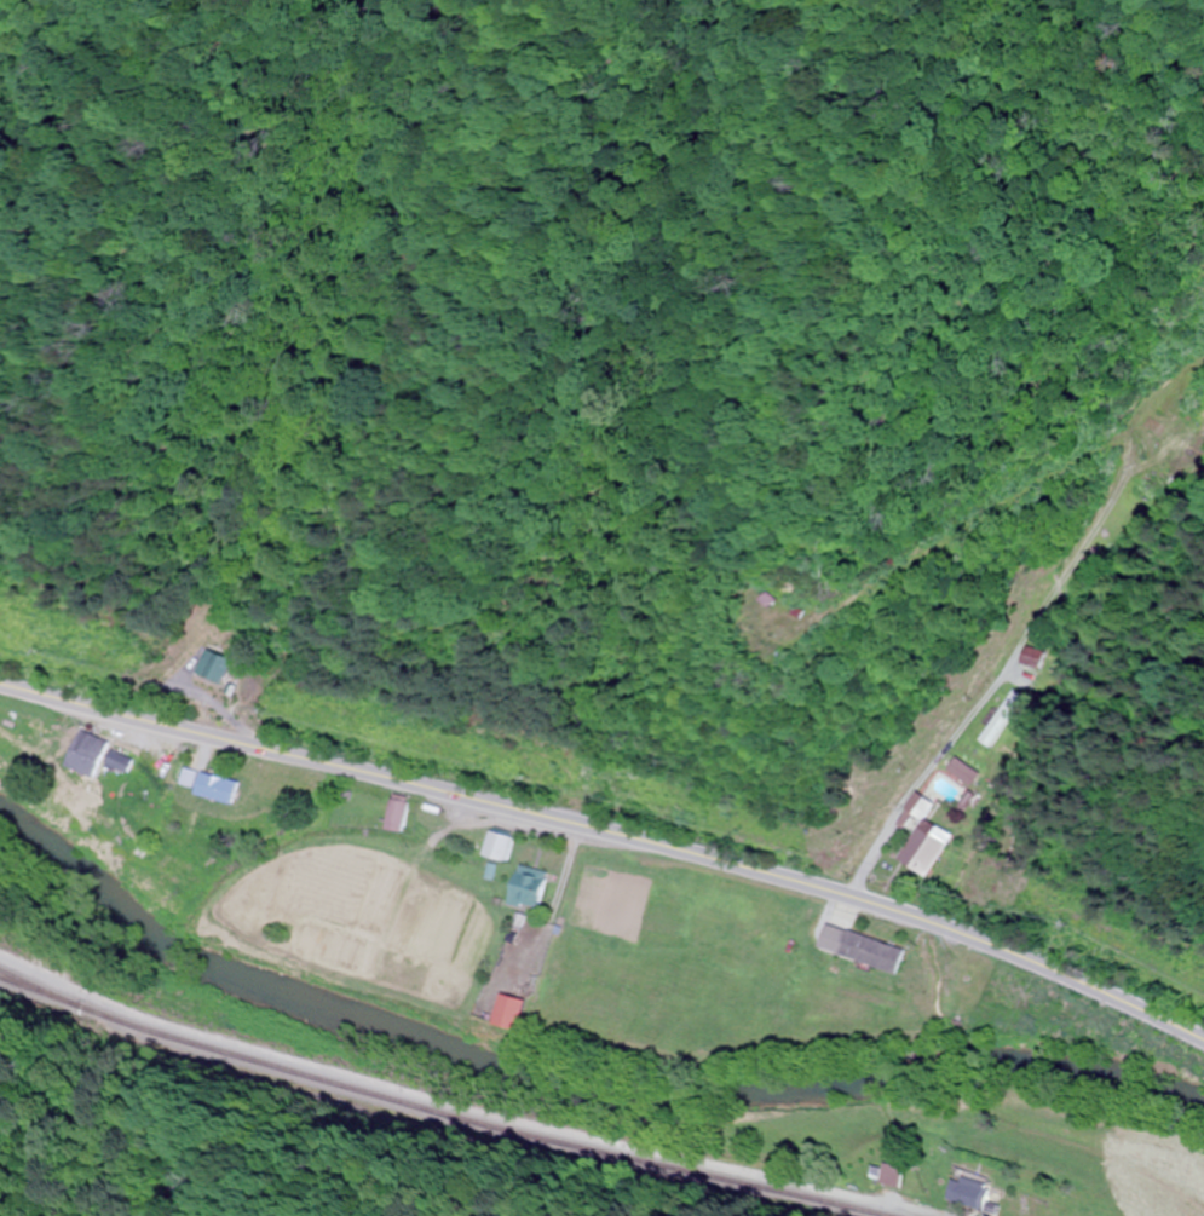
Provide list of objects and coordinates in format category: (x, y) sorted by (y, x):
building: (1036, 658)
building: (221, 665)
building: (1003, 718)
building: (104, 756)
building: (299, 793)
building: (215, 796)
building: (921, 806)
building: (399, 816)
road: (611, 830)
building: (500, 846)
building: (926, 848)
building: (531, 888)
building: (878, 952)
building: (514, 1013)
river: (570, 1091)
road: (457, 1102)
railway: (434, 1108)
building: (885, 1175)
building: (969, 1194)

